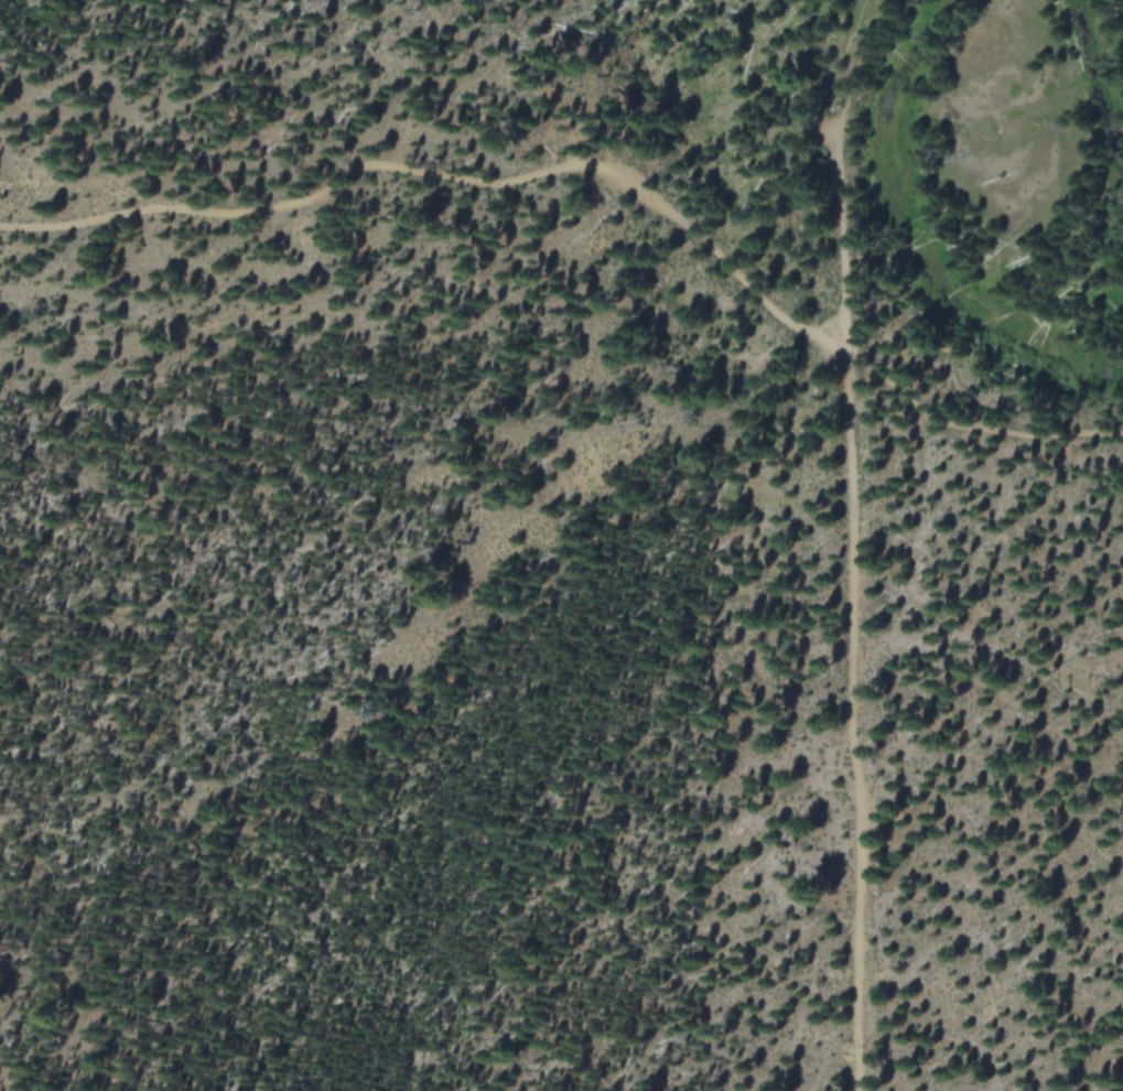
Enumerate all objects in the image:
road: (767, 303)
road: (845, 324)

